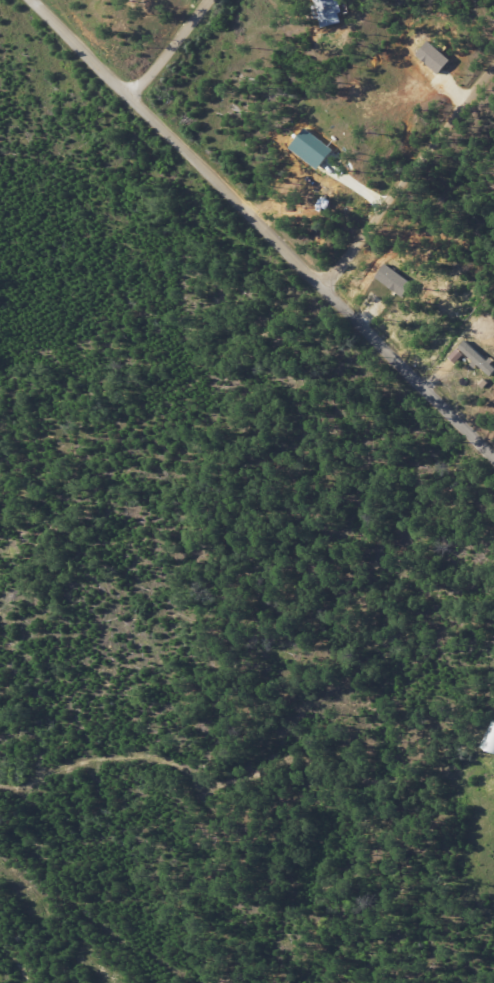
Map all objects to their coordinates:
building: (328, 12)
road: (168, 48)
building: (433, 57)
road: (406, 173)
road: (266, 226)
building: (394, 280)
building: (477, 358)
road: (127, 901)

